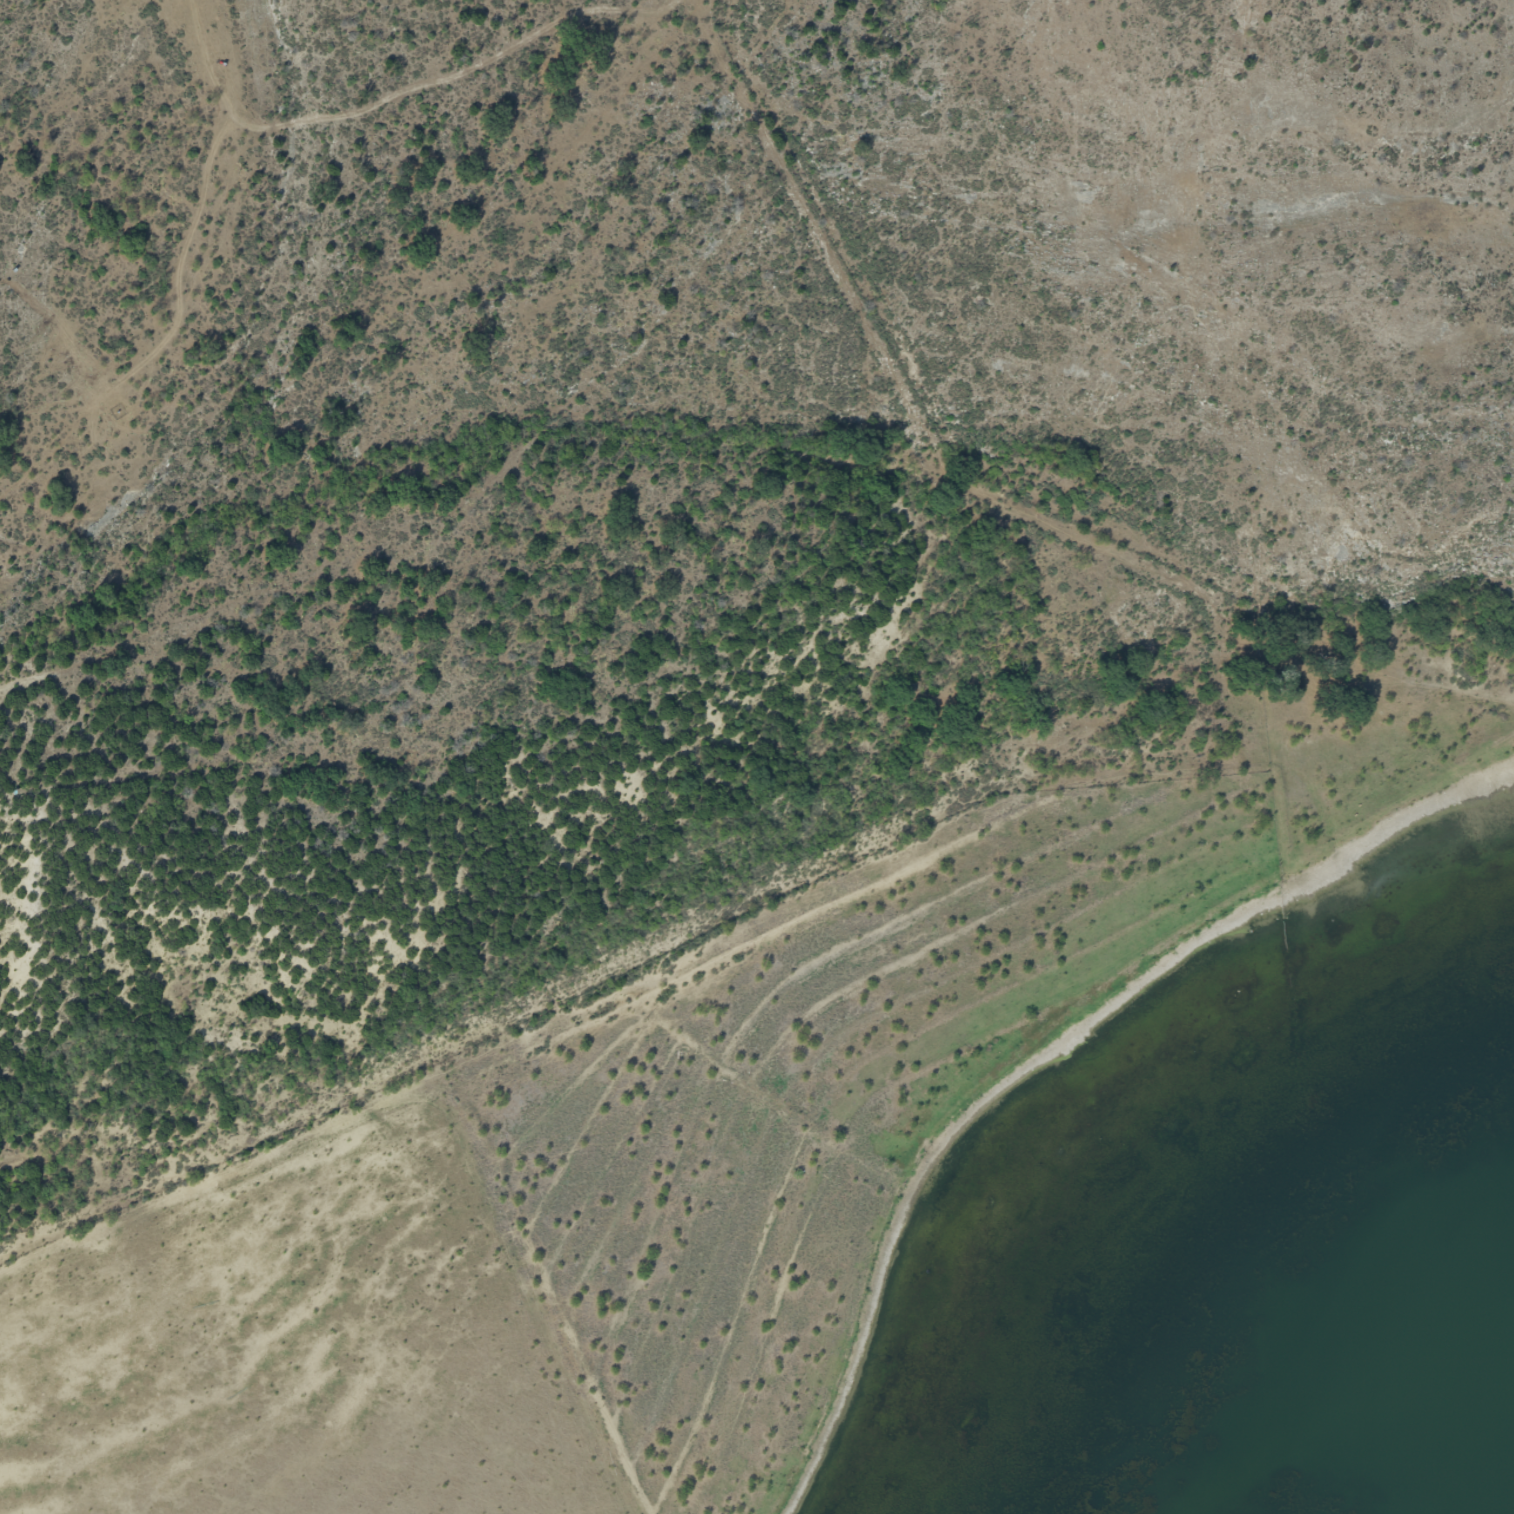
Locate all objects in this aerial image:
road: (414, 127)

